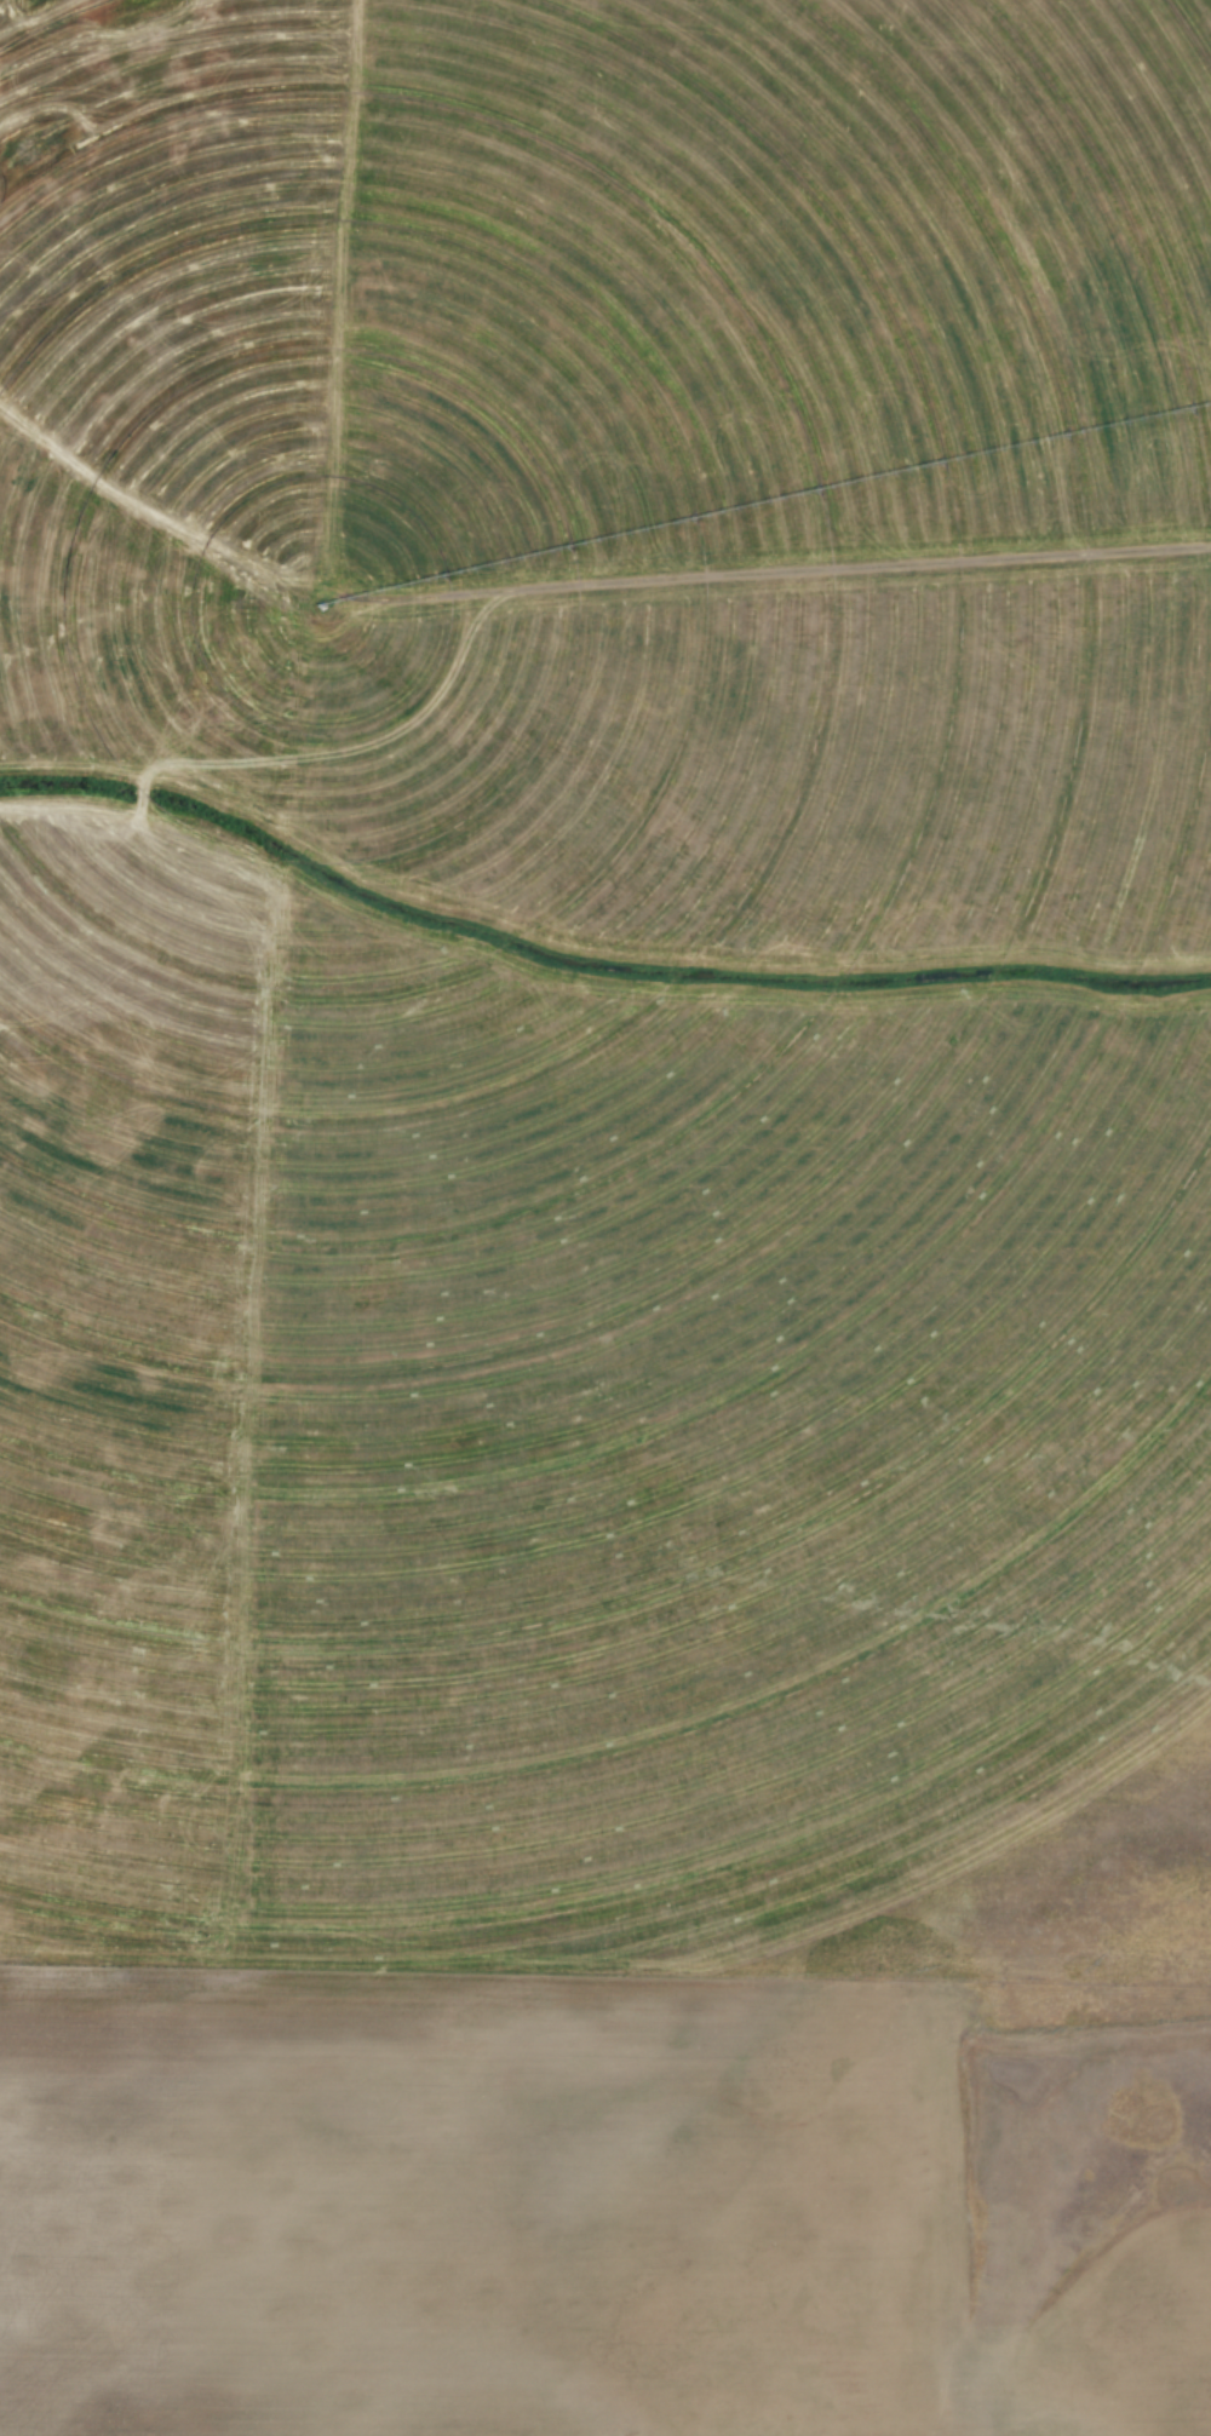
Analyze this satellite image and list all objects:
crop: (567, 774)
crop: (733, 1682)
crop: (601, 2204)

